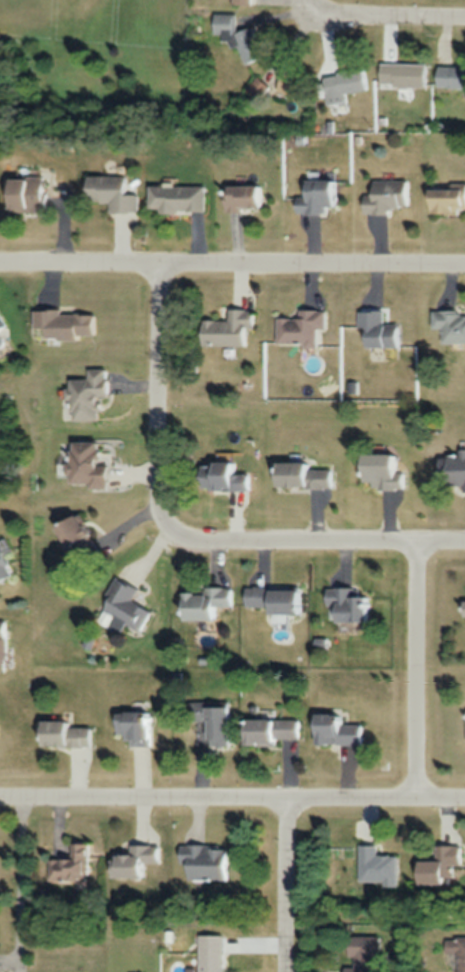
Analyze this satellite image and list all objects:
building: (241, 1)
road: (323, 11)
road: (401, 23)
building: (248, 47)
building: (403, 74)
building: (450, 76)
building: (291, 83)
building: (344, 84)
building: (25, 192)
building: (109, 192)
building: (241, 195)
building: (316, 195)
building: (385, 195)
building: (444, 197)
building: (175, 198)
road: (232, 267)
building: (64, 324)
building: (448, 325)
building: (226, 328)
building: (297, 328)
building: (376, 330)
building: (1, 336)
building: (85, 394)
building: (84, 465)
building: (450, 468)
building: (379, 471)
building: (301, 475)
building: (220, 476)
building: (74, 537)
road: (182, 539)
building: (3, 569)
building: (273, 598)
building: (462, 602)
building: (203, 604)
building: (345, 604)
building: (121, 607)
building: (21, 631)
building: (2, 645)
road: (416, 674)
building: (211, 722)
building: (130, 727)
building: (268, 730)
building: (333, 730)
building: (61, 734)
road: (144, 802)
road: (376, 802)
building: (130, 860)
building: (203, 860)
building: (435, 863)
building: (71, 864)
building: (374, 865)
road: (21, 886)
road: (287, 887)
building: (209, 952)
building: (362, 952)
building: (460, 953)

